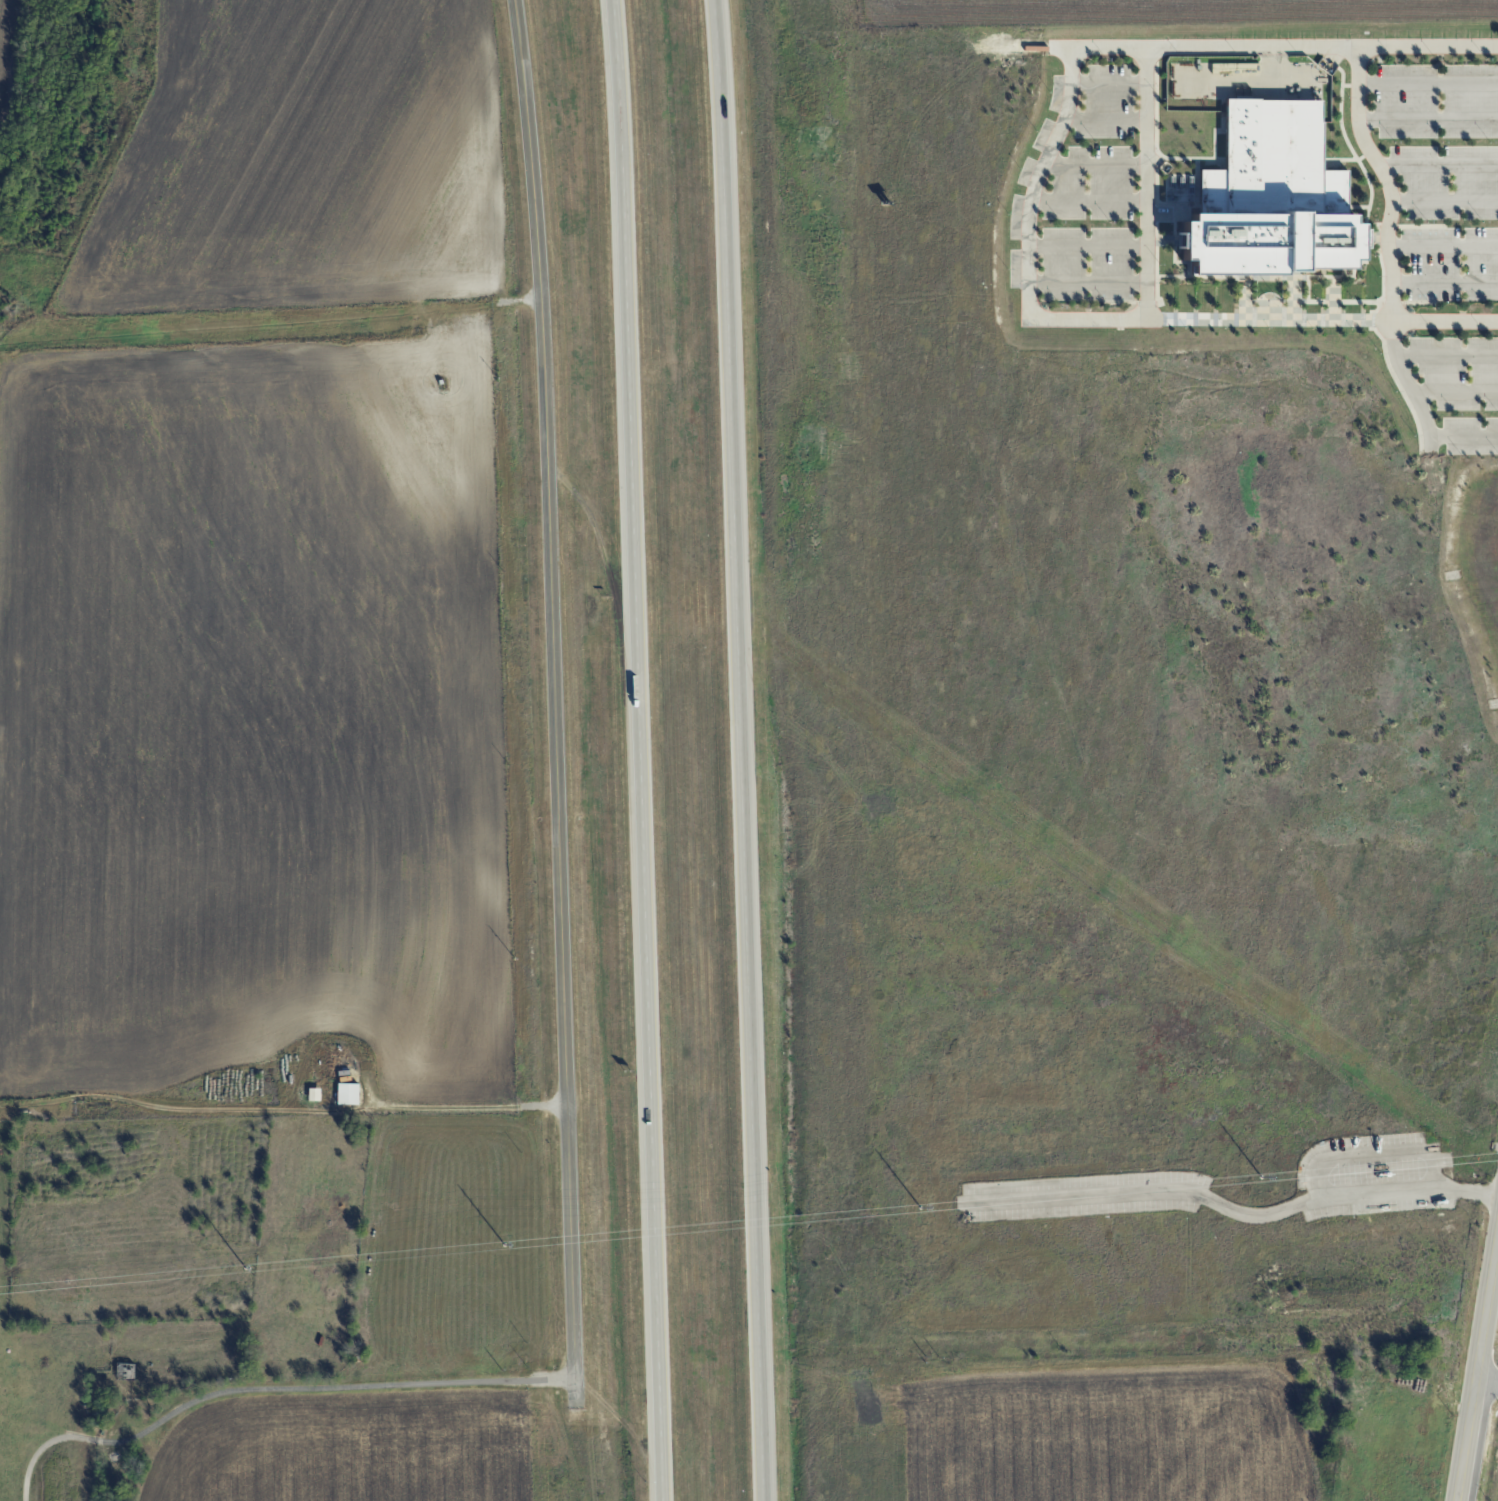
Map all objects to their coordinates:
road: (1273, 47)
road: (1110, 82)
road: (1428, 82)
road: (1106, 117)
road: (1427, 120)
road: (1438, 165)
road: (1095, 166)
road: (1146, 183)
parking lot: (1089, 190)
building: (1275, 196)
road: (1088, 201)
road: (1444, 201)
road: (1028, 239)
road: (1387, 241)
parking lot: (1438, 241)
road: (1087, 245)
road: (1442, 246)
road: (1087, 282)
road: (1445, 283)
road: (1269, 319)
road: (1445, 320)
road: (1447, 357)
road: (1456, 392)
road: (1464, 436)
road: (557, 686)
road: (638, 750)
road: (742, 750)
building: (347, 1093)
building: (313, 1094)
power tower: (1261, 1177)
road: (1230, 1208)
power tower: (921, 1209)
power tower: (505, 1246)
power tower: (244, 1269)
building: (356, 1352)
building: (125, 1369)
road: (1477, 1370)
road: (1487, 1378)
road: (332, 1384)
building: (94, 1408)
building: (145, 1412)
building: (95, 1420)
road: (82, 1438)
road: (1482, 1441)
road: (32, 1460)

